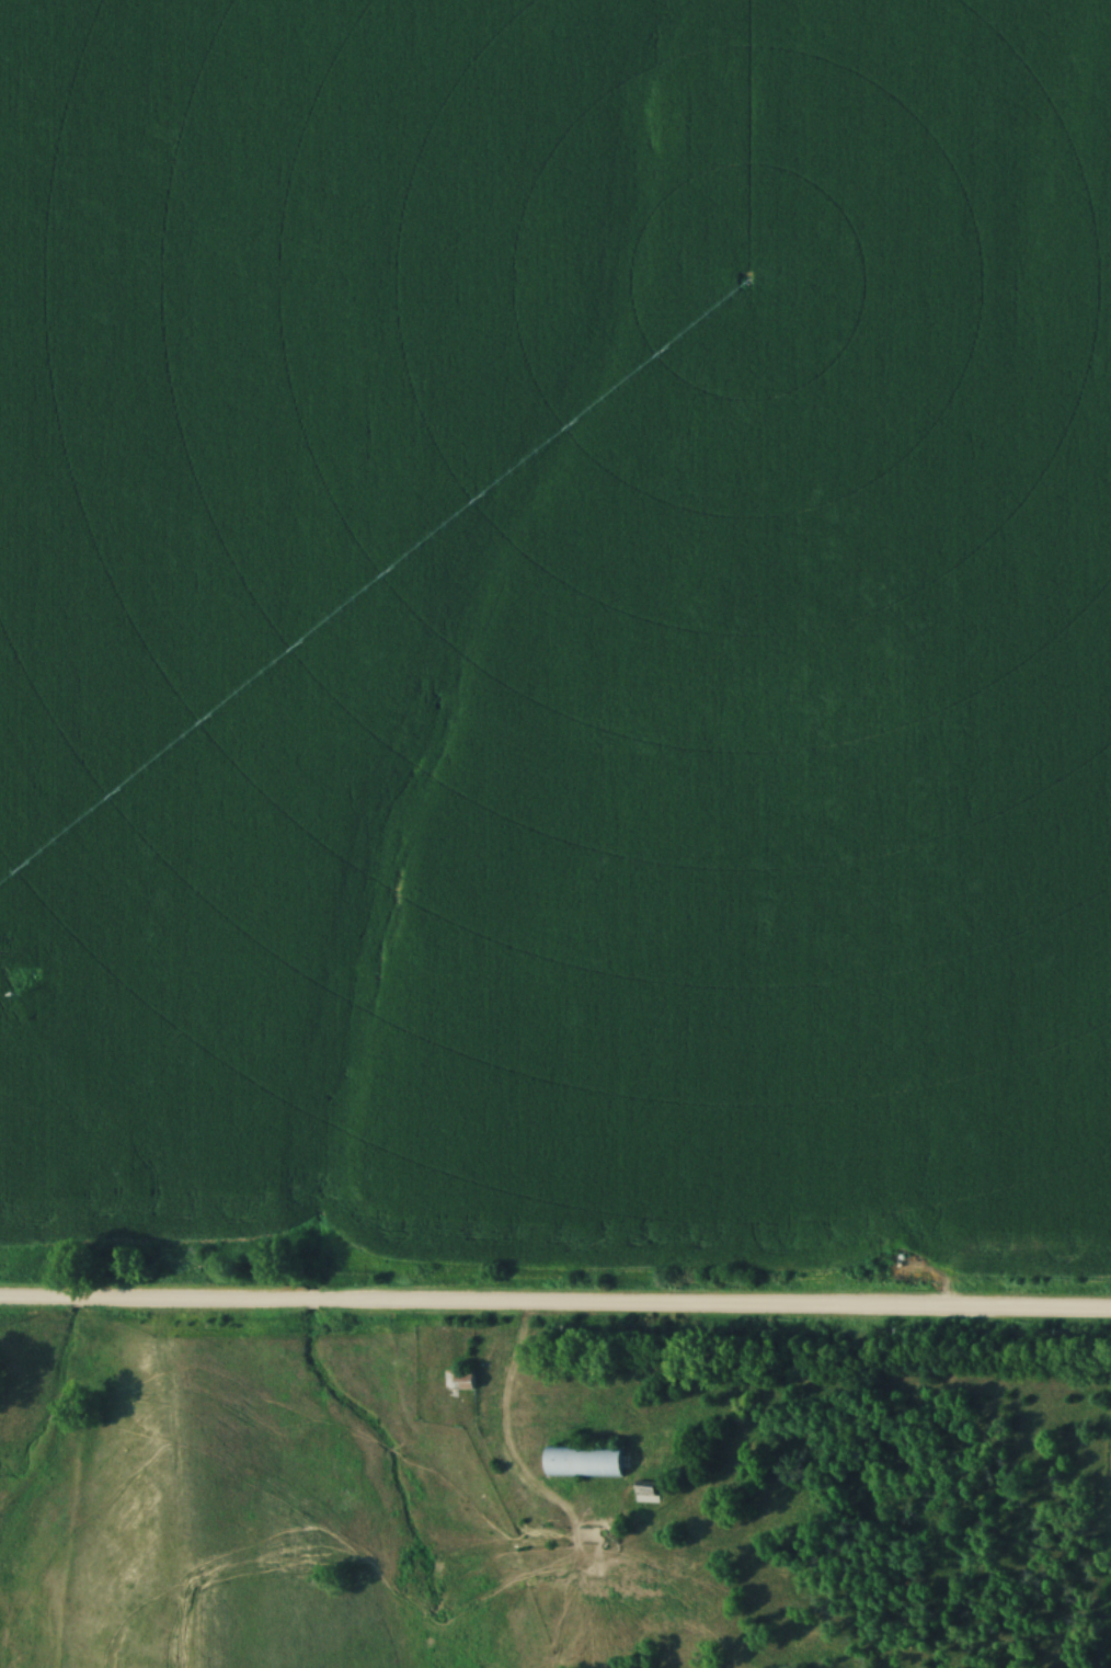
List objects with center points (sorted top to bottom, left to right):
road: (555, 1306)
building: (458, 1379)
road: (497, 1426)
building: (582, 1461)

